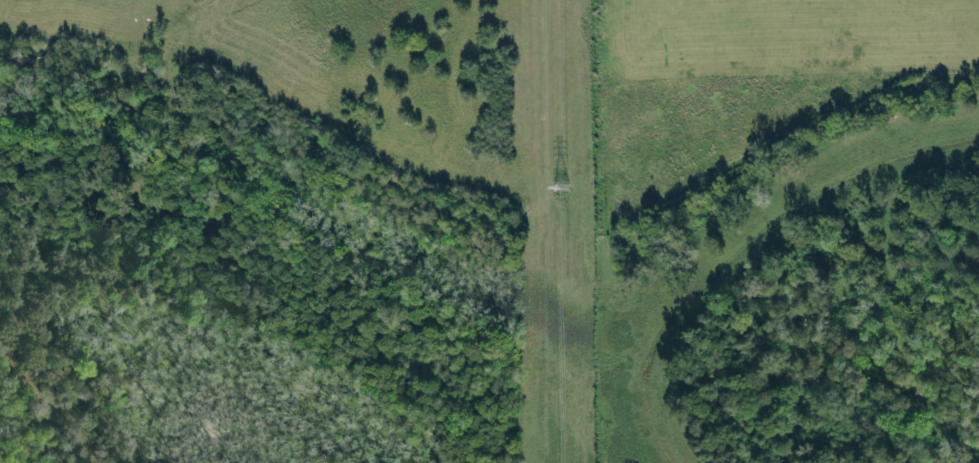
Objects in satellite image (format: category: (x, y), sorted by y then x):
power tower: (558, 185)

